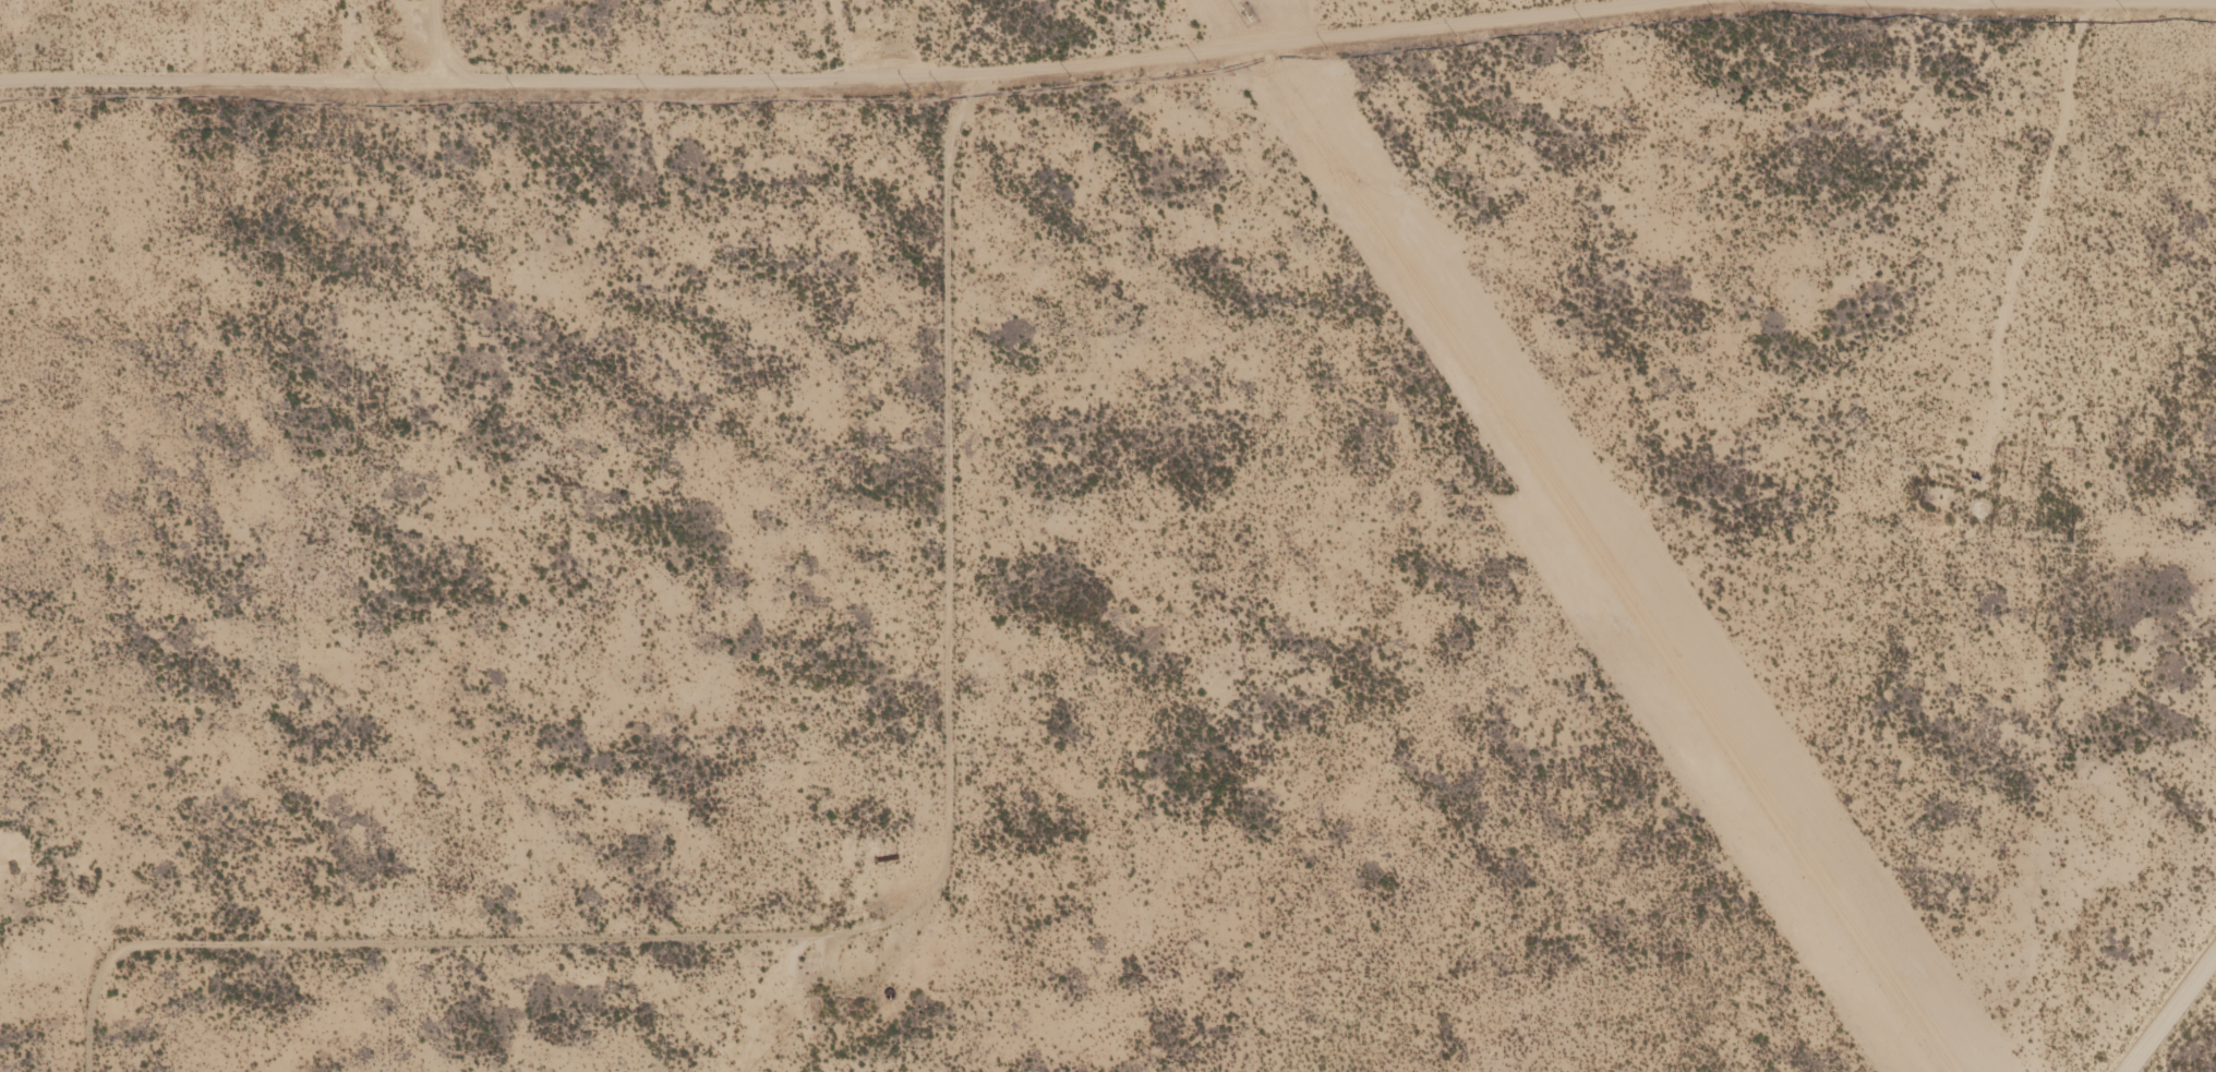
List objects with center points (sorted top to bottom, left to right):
road: (2051, 0)
road: (844, 77)
road: (2032, 232)
road: (888, 922)
road: (2164, 1005)

